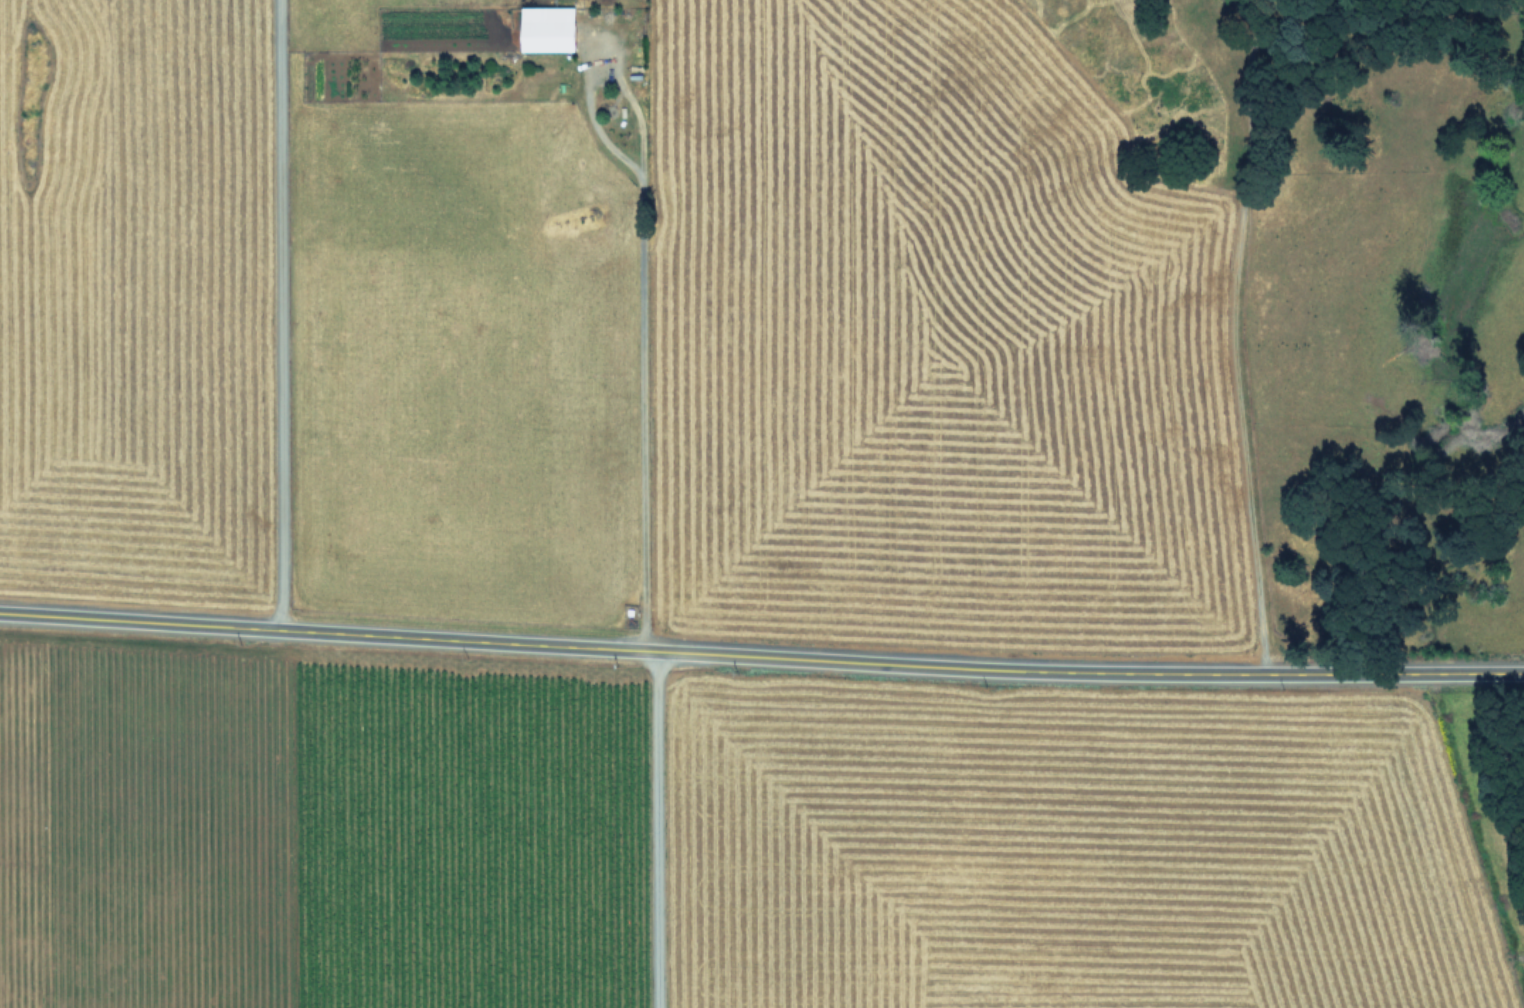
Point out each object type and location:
building: (552, 28)
road: (642, 284)
road: (277, 314)
crop: (640, 320)
road: (1229, 334)
road: (761, 655)
road: (657, 828)
crop: (721, 842)

